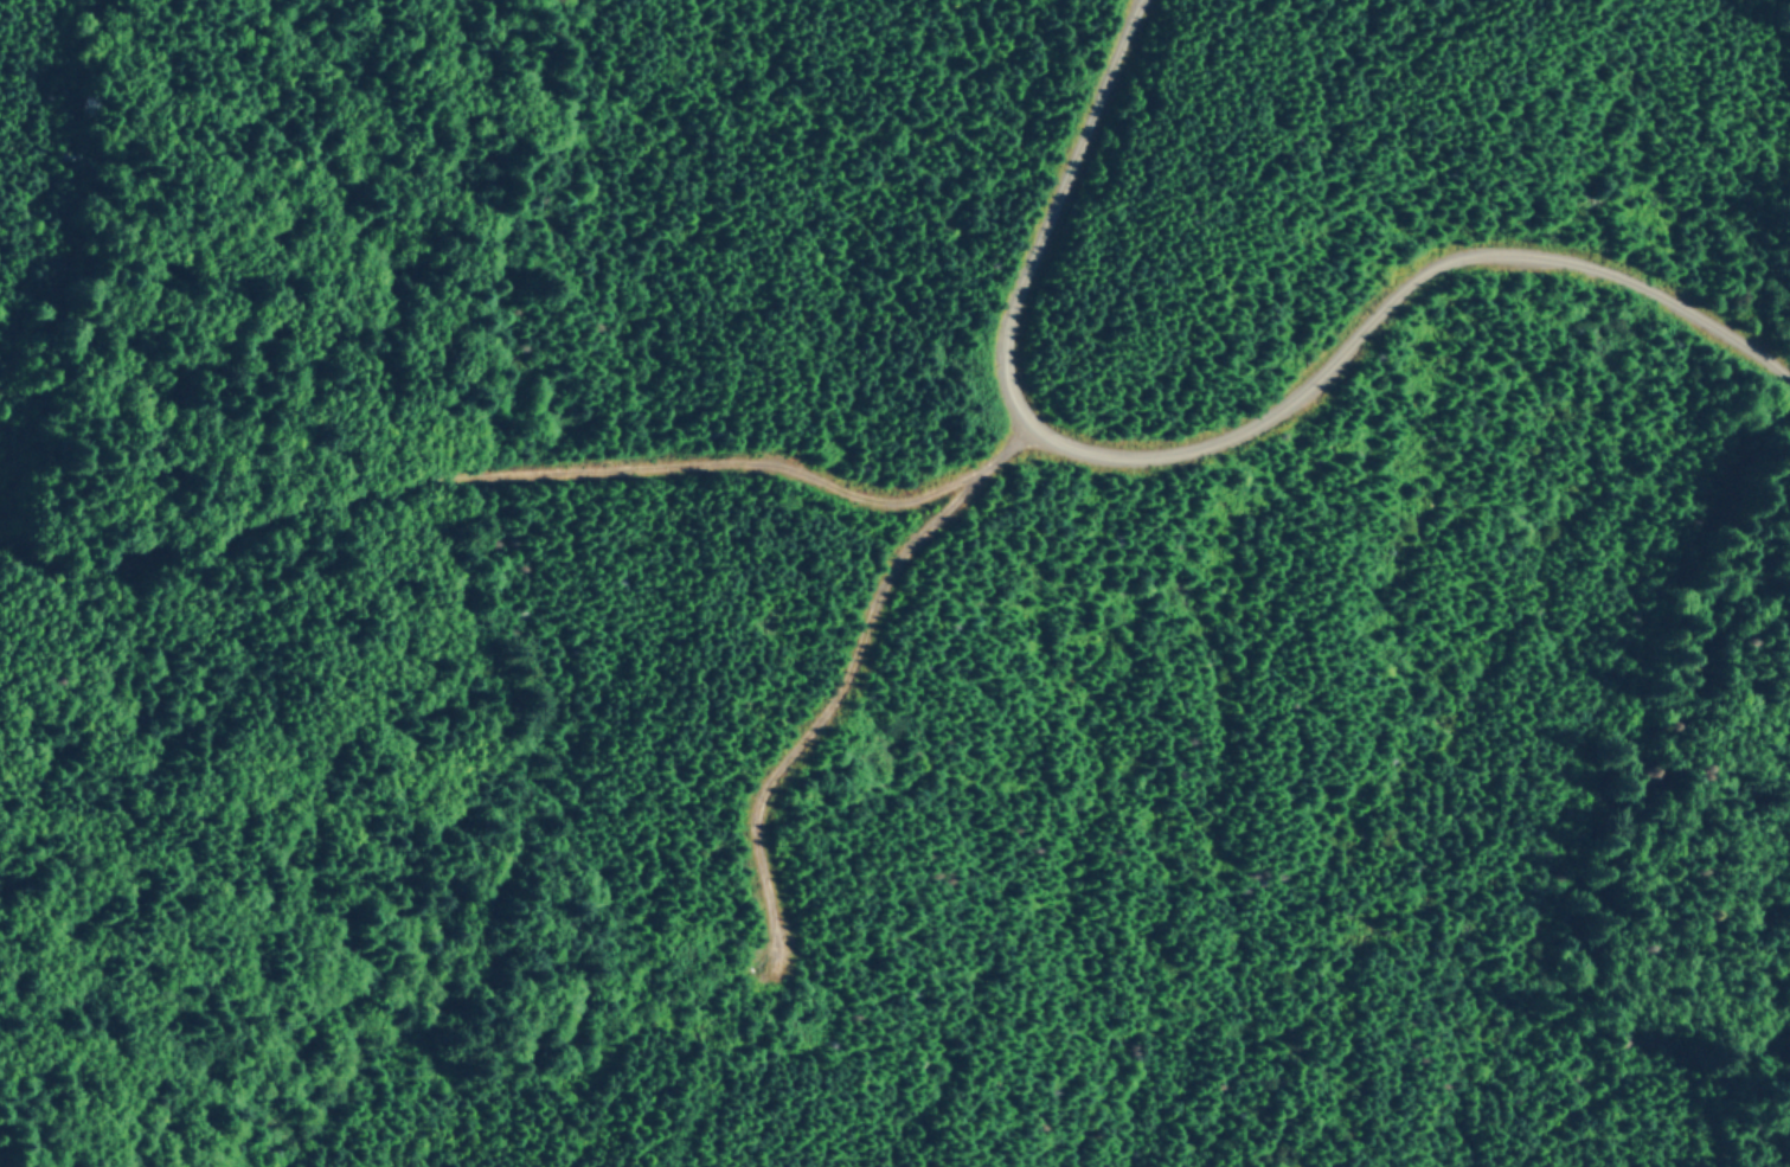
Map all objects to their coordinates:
road: (1225, 441)
road: (521, 481)
road: (769, 784)

